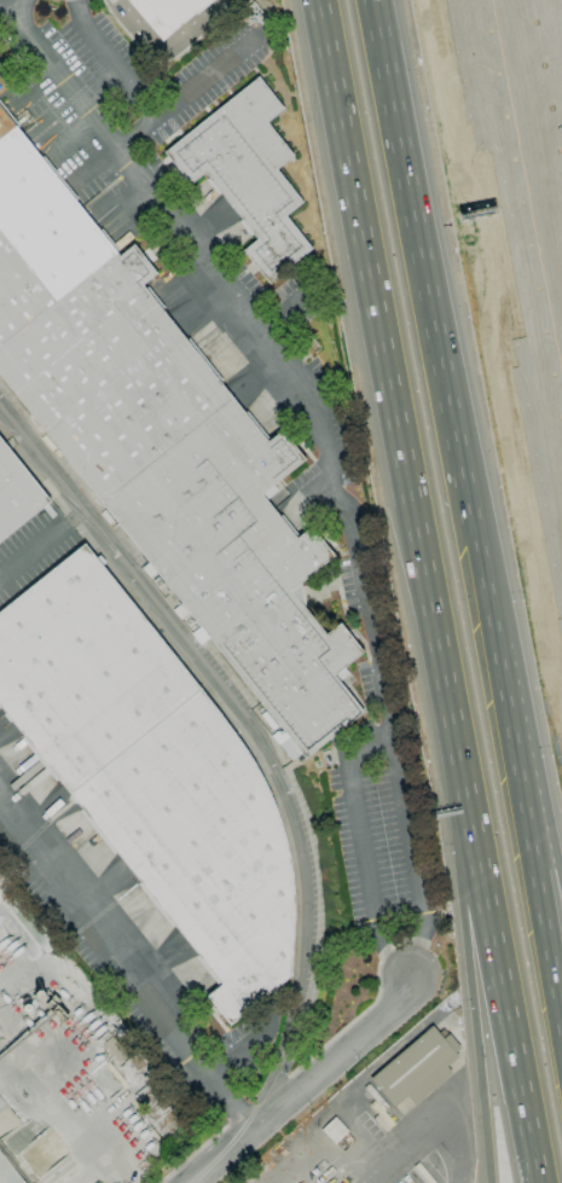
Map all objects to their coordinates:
road: (2, 1)
building: (166, 13)
road: (162, 48)
building: (2, 86)
road: (150, 124)
road: (134, 140)
building: (248, 174)
building: (523, 204)
road: (425, 271)
road: (255, 341)
road: (492, 353)
road: (396, 424)
building: (163, 447)
building: (17, 493)
road: (41, 546)
road: (488, 602)
building: (544, 604)
road: (209, 669)
road: (558, 672)
road: (512, 748)
building: (152, 772)
road: (410, 830)
road: (547, 856)
road: (367, 875)
road: (545, 928)
road: (123, 973)
road: (367, 1008)
road: (475, 1014)
road: (508, 1015)
road: (285, 1045)
building: (139, 1066)
building: (417, 1067)
road: (303, 1083)
building: (380, 1110)
building: (334, 1130)
road: (365, 1137)
road: (411, 1142)
road: (454, 1143)
road: (196, 1149)

